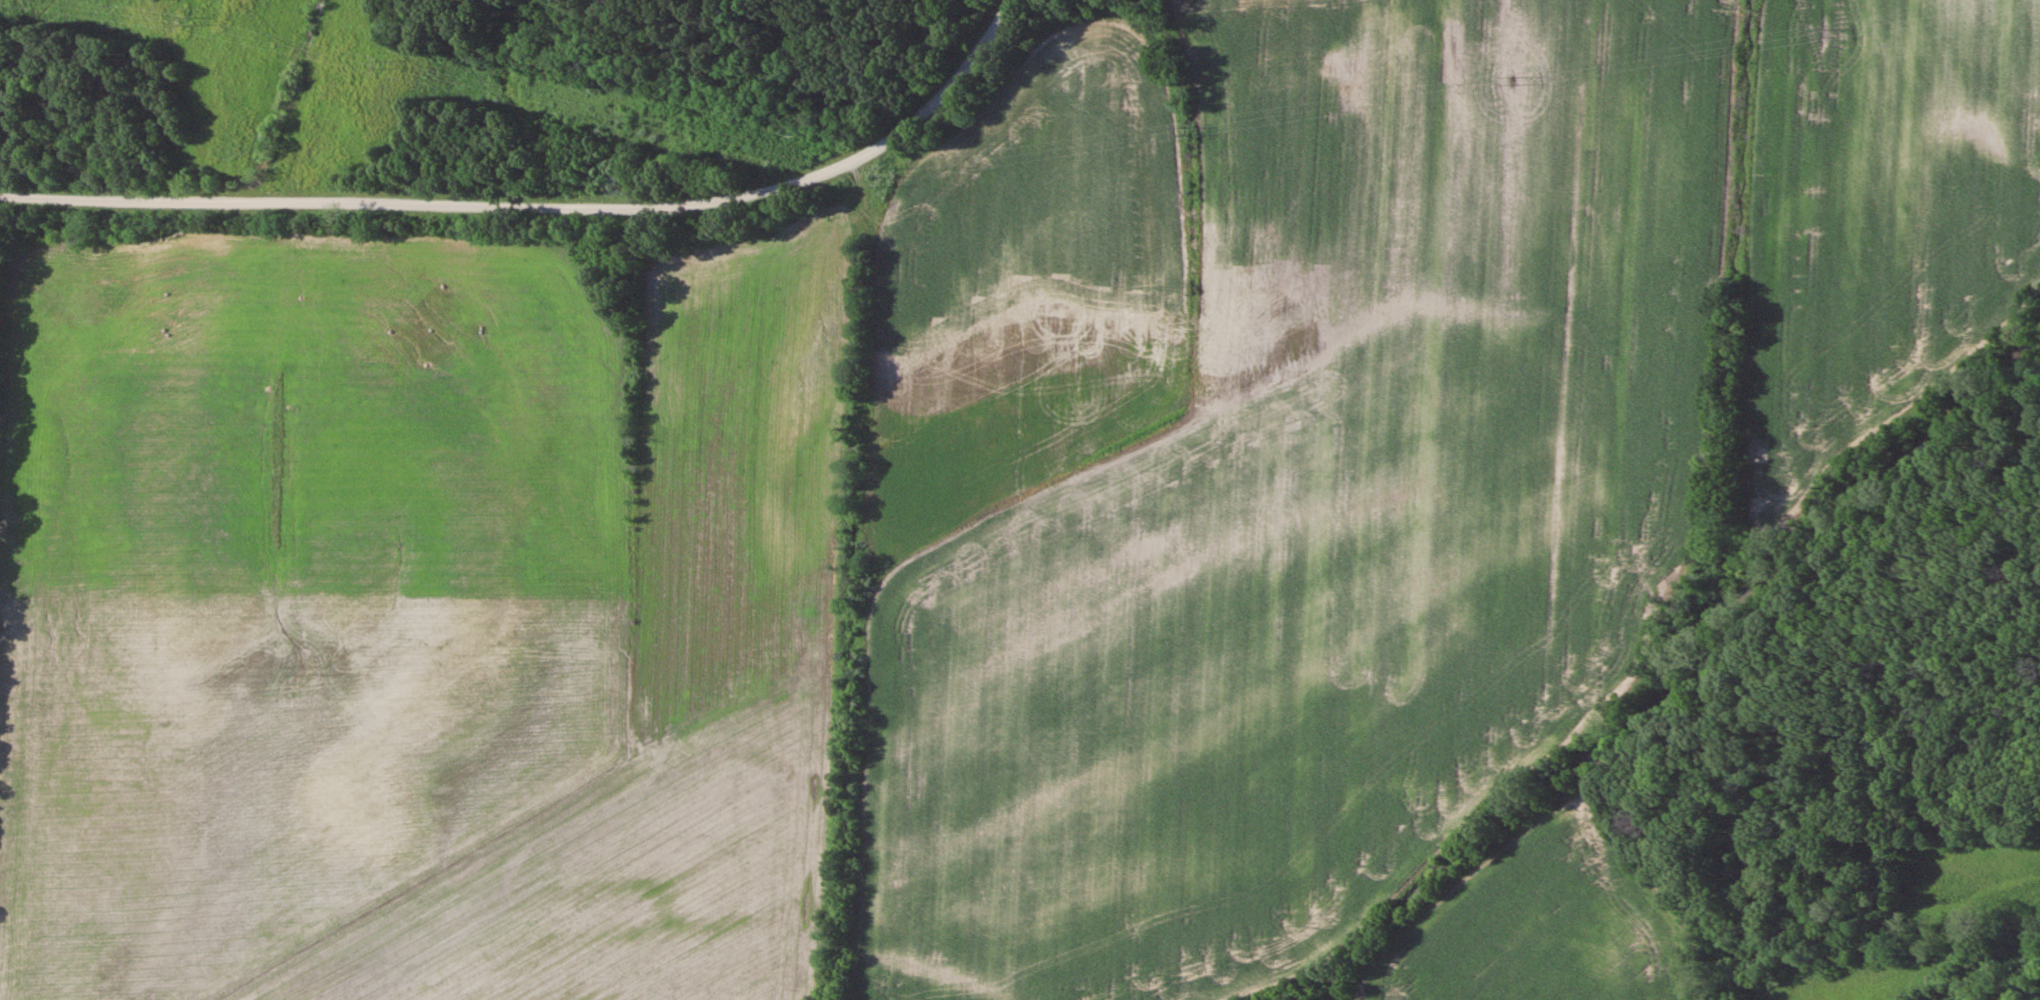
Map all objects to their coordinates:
power tower: (188, 21)
power tower: (1822, 34)
power tower: (385, 67)
power tower: (1508, 80)
power tower: (628, 119)
power tower: (854, 174)
road: (543, 209)

